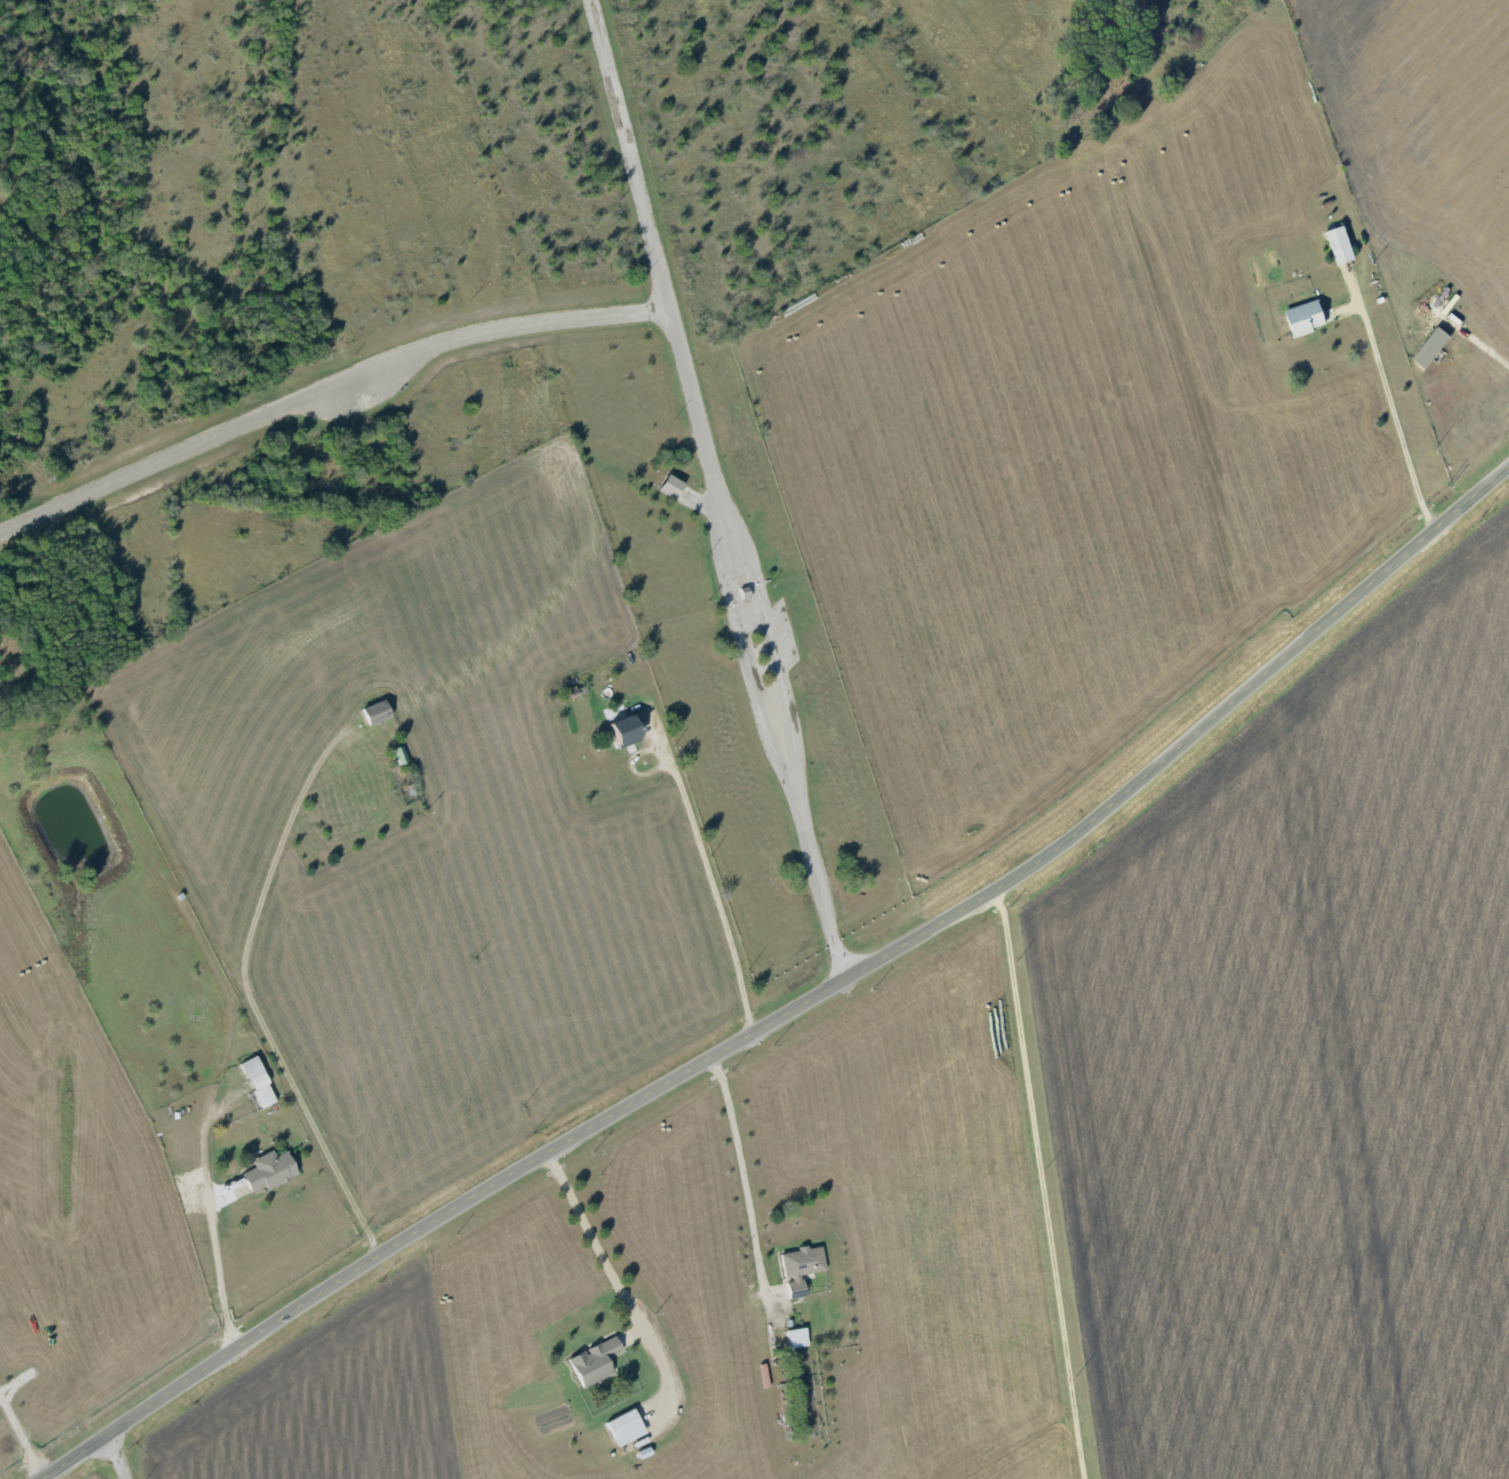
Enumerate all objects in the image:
building: (1342, 244)
road: (656, 253)
building: (1307, 317)
building: (1433, 346)
road: (1484, 346)
park: (402, 368)
road: (327, 396)
road: (1392, 408)
building: (671, 483)
road: (698, 500)
road: (749, 617)
parking lot: (780, 637)
road: (773, 653)
road: (746, 660)
building: (376, 712)
building: (626, 730)
building: (399, 755)
road: (707, 878)
road: (820, 894)
road: (243, 982)
road: (800, 1005)
building: (258, 1082)
building: (269, 1171)
road: (739, 1173)
road: (1042, 1186)
building: (800, 1266)
road: (607, 1267)
road: (217, 1278)
building: (796, 1338)
building: (594, 1362)
building: (625, 1428)
road: (18, 1439)
road: (114, 1458)

